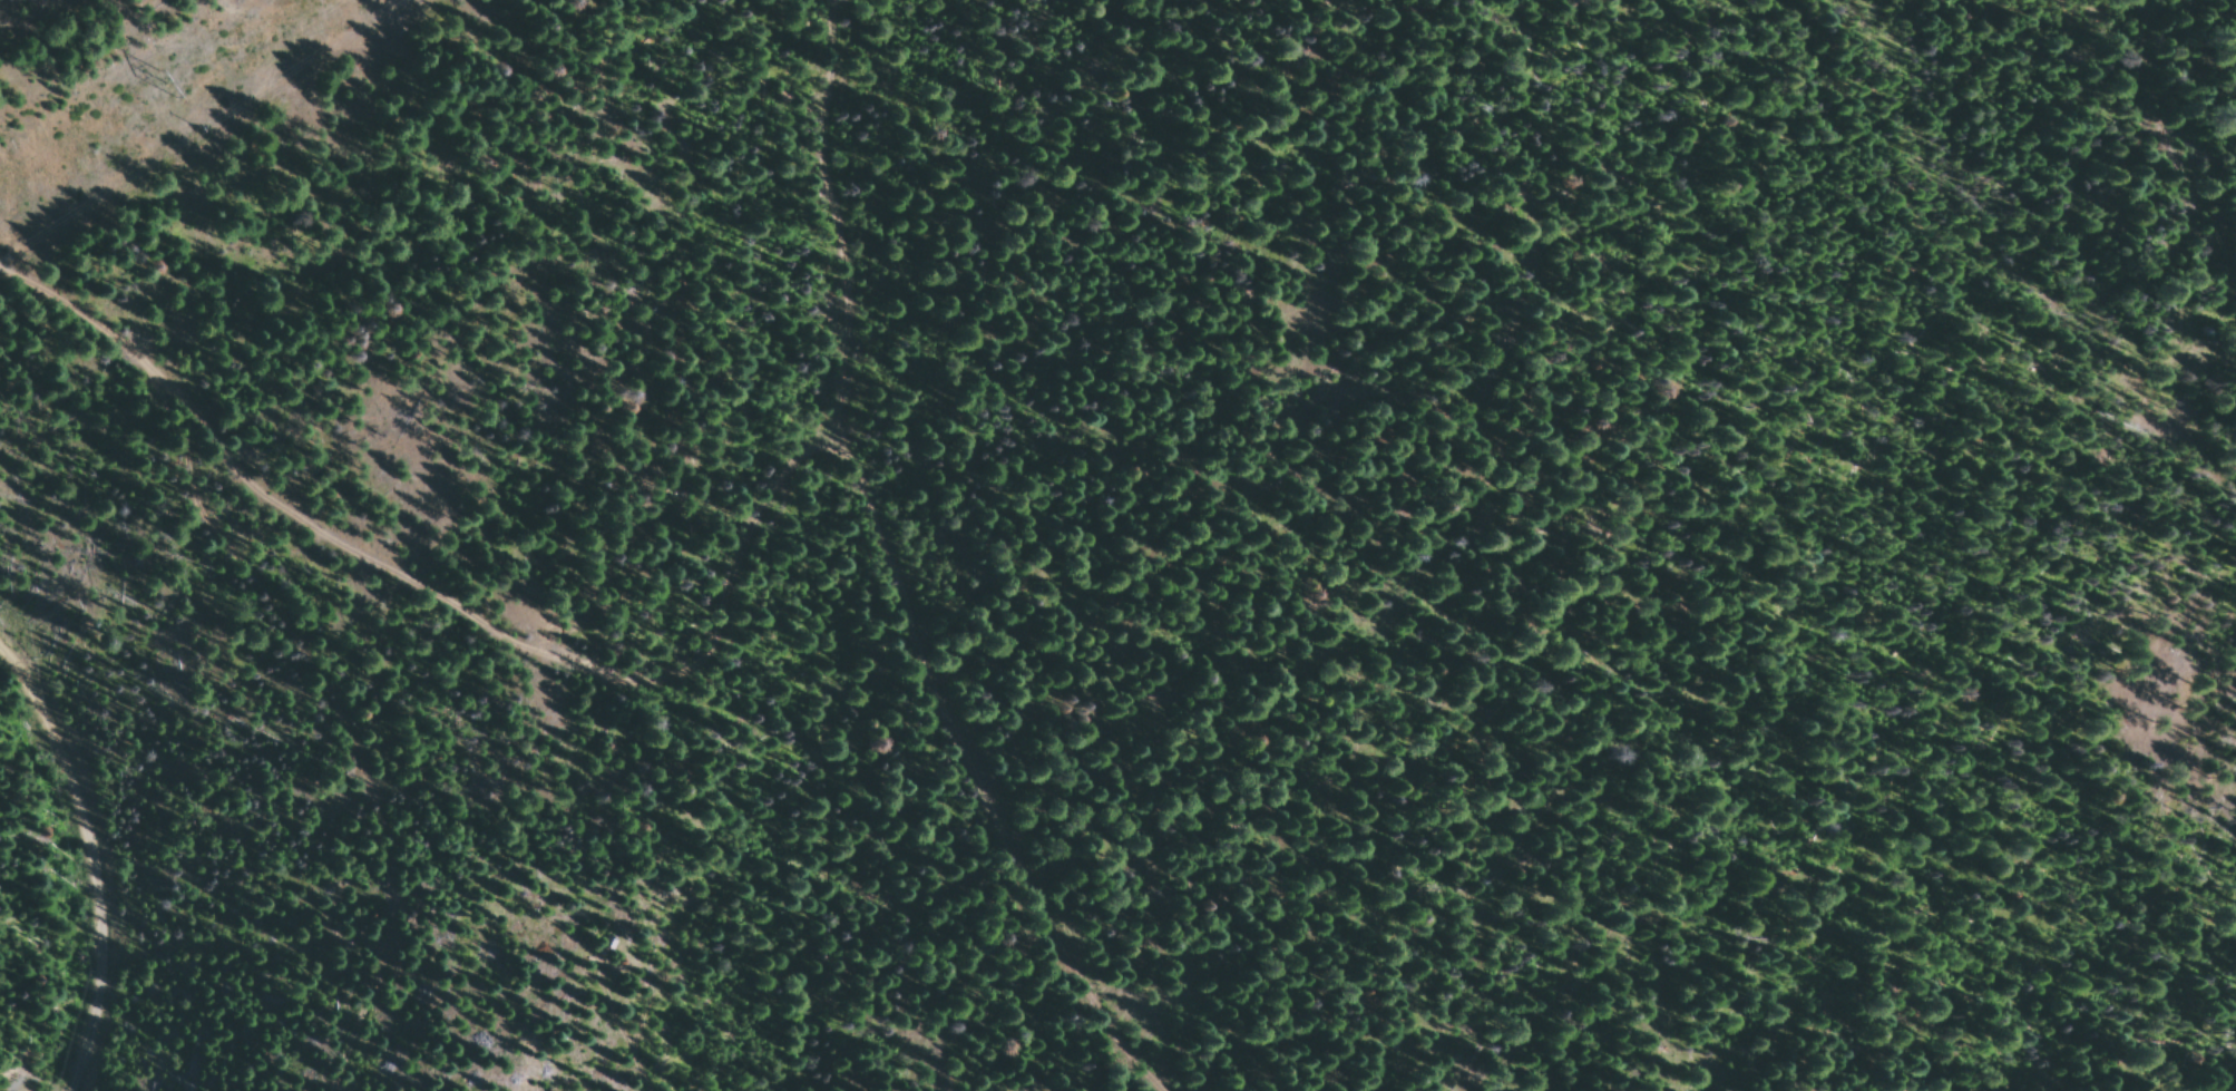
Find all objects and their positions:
power tower: (165, 77)
road: (918, 319)
road: (618, 673)
road: (145, 838)

